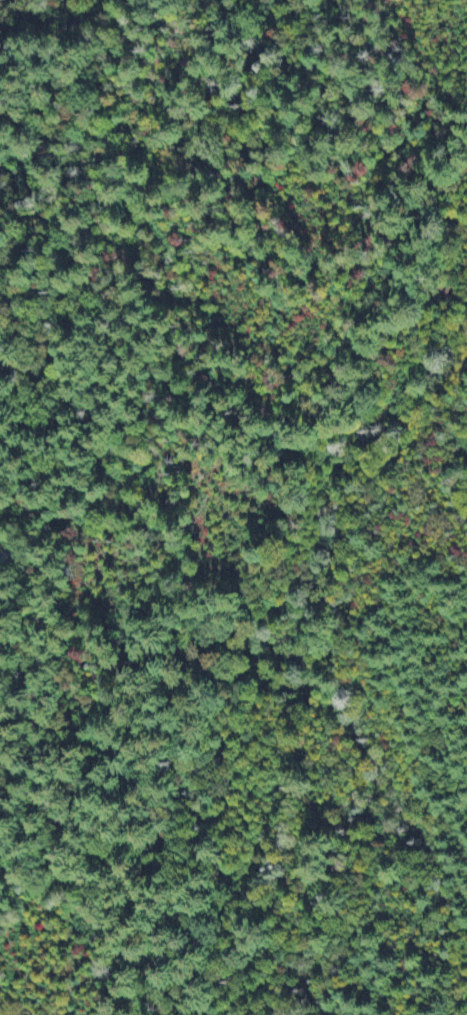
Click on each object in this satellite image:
road: (53, 788)

